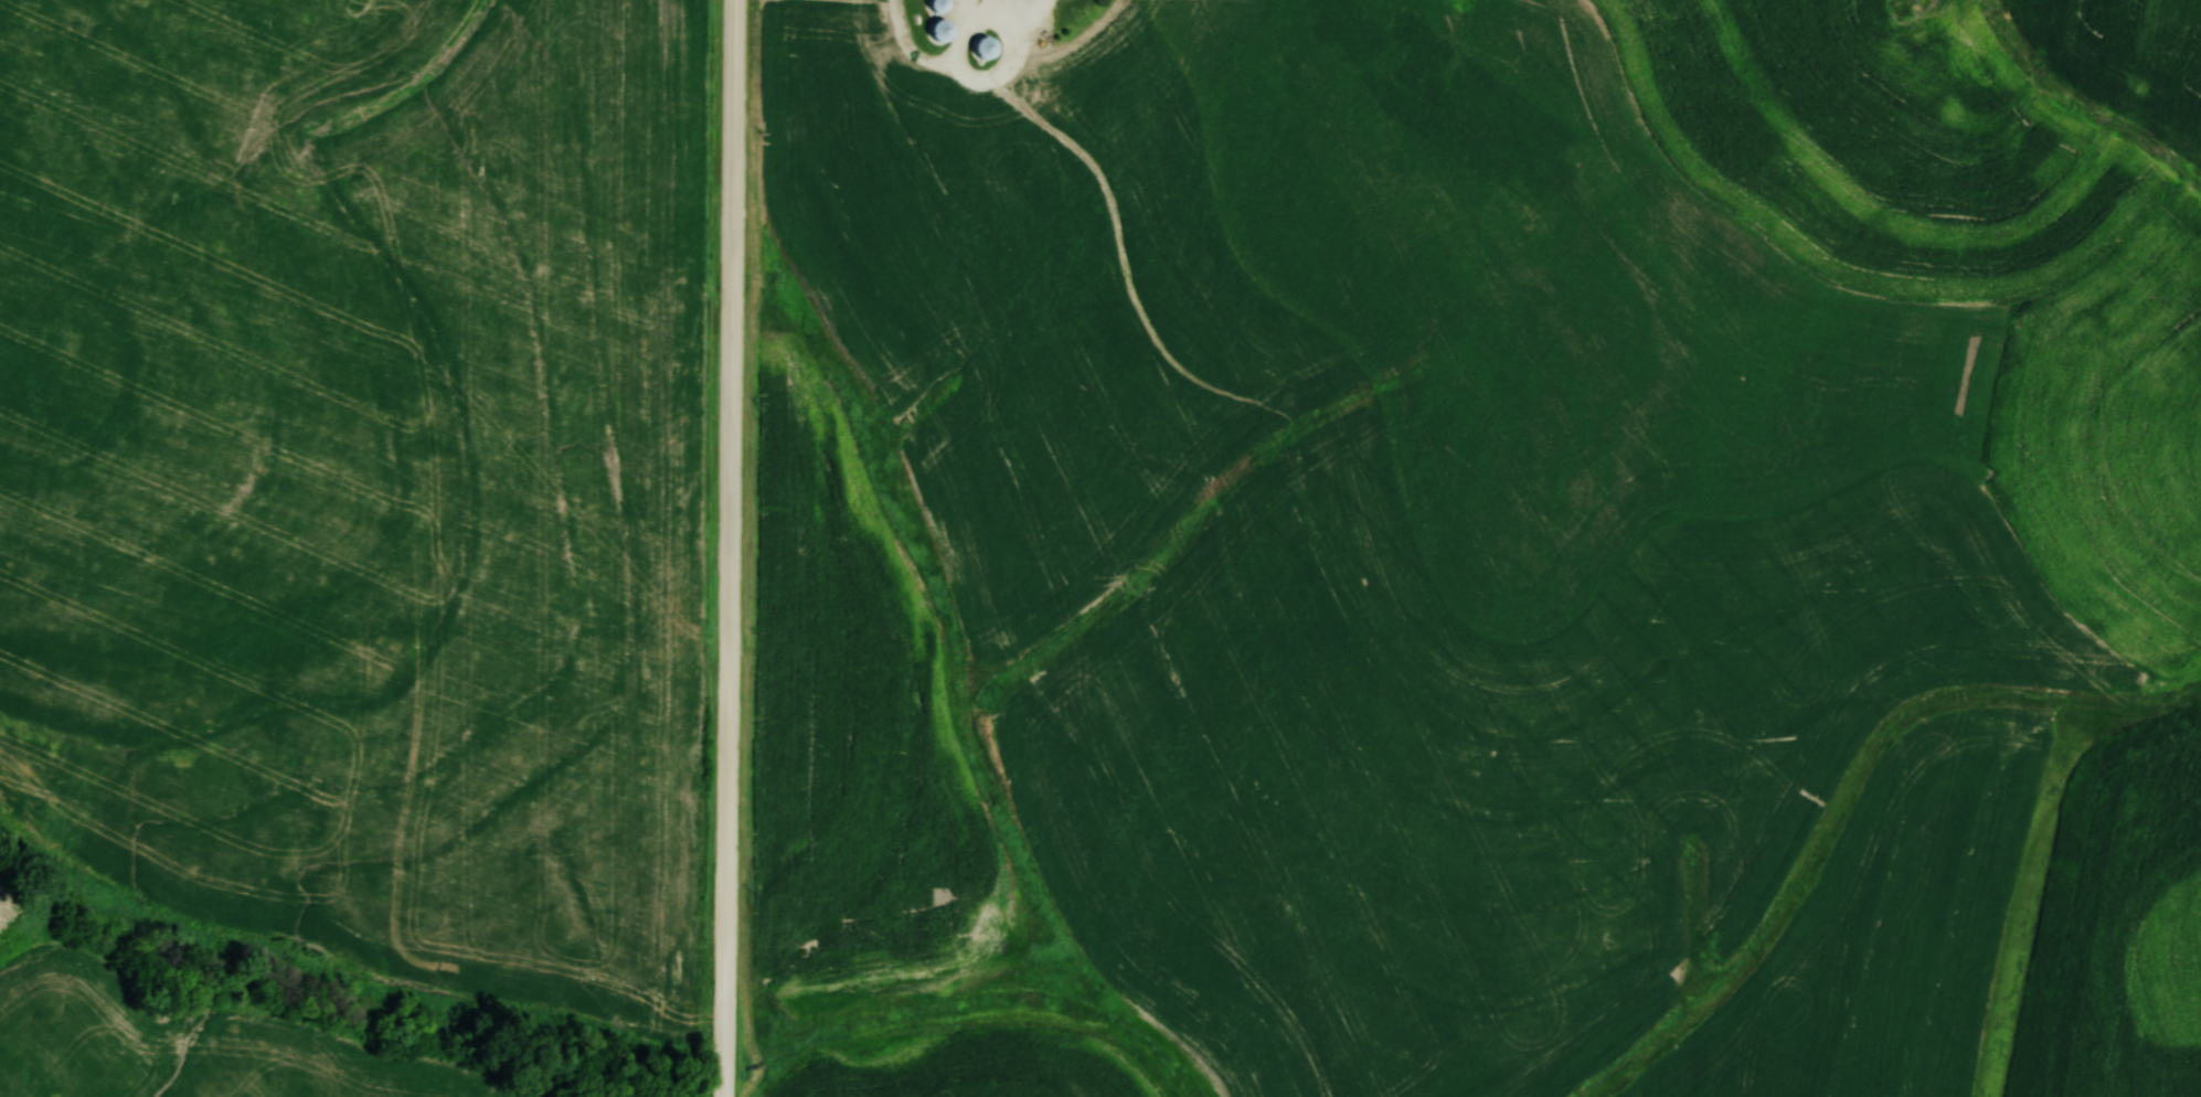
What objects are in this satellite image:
building: (985, 47)
road: (731, 548)

